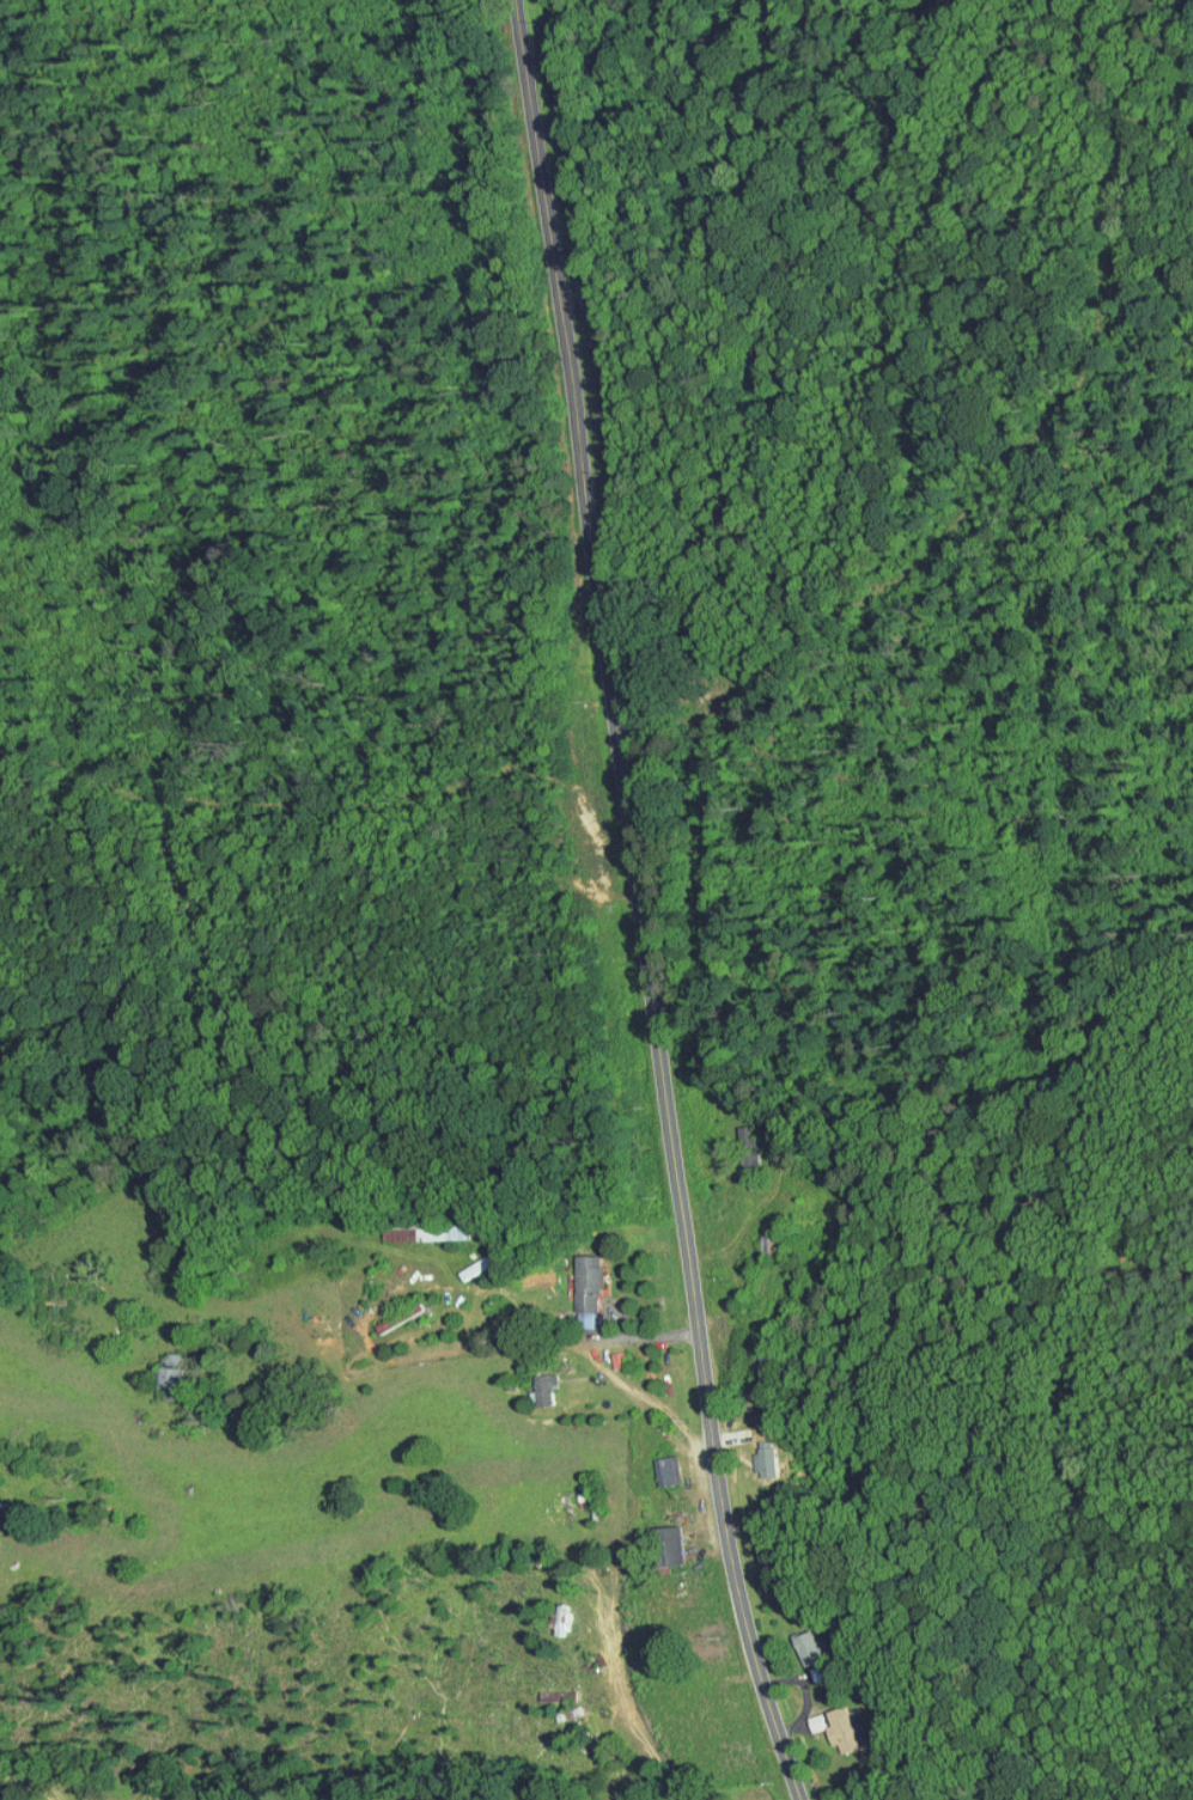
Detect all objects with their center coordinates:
road: (643, 907)
building: (578, 1282)
road: (535, 1312)
building: (375, 1318)
building: (608, 1351)
road: (591, 1371)
building: (532, 1383)
building: (756, 1452)
building: (657, 1464)
building: (661, 1538)
building: (554, 1613)
building: (798, 1640)
building: (826, 1720)

